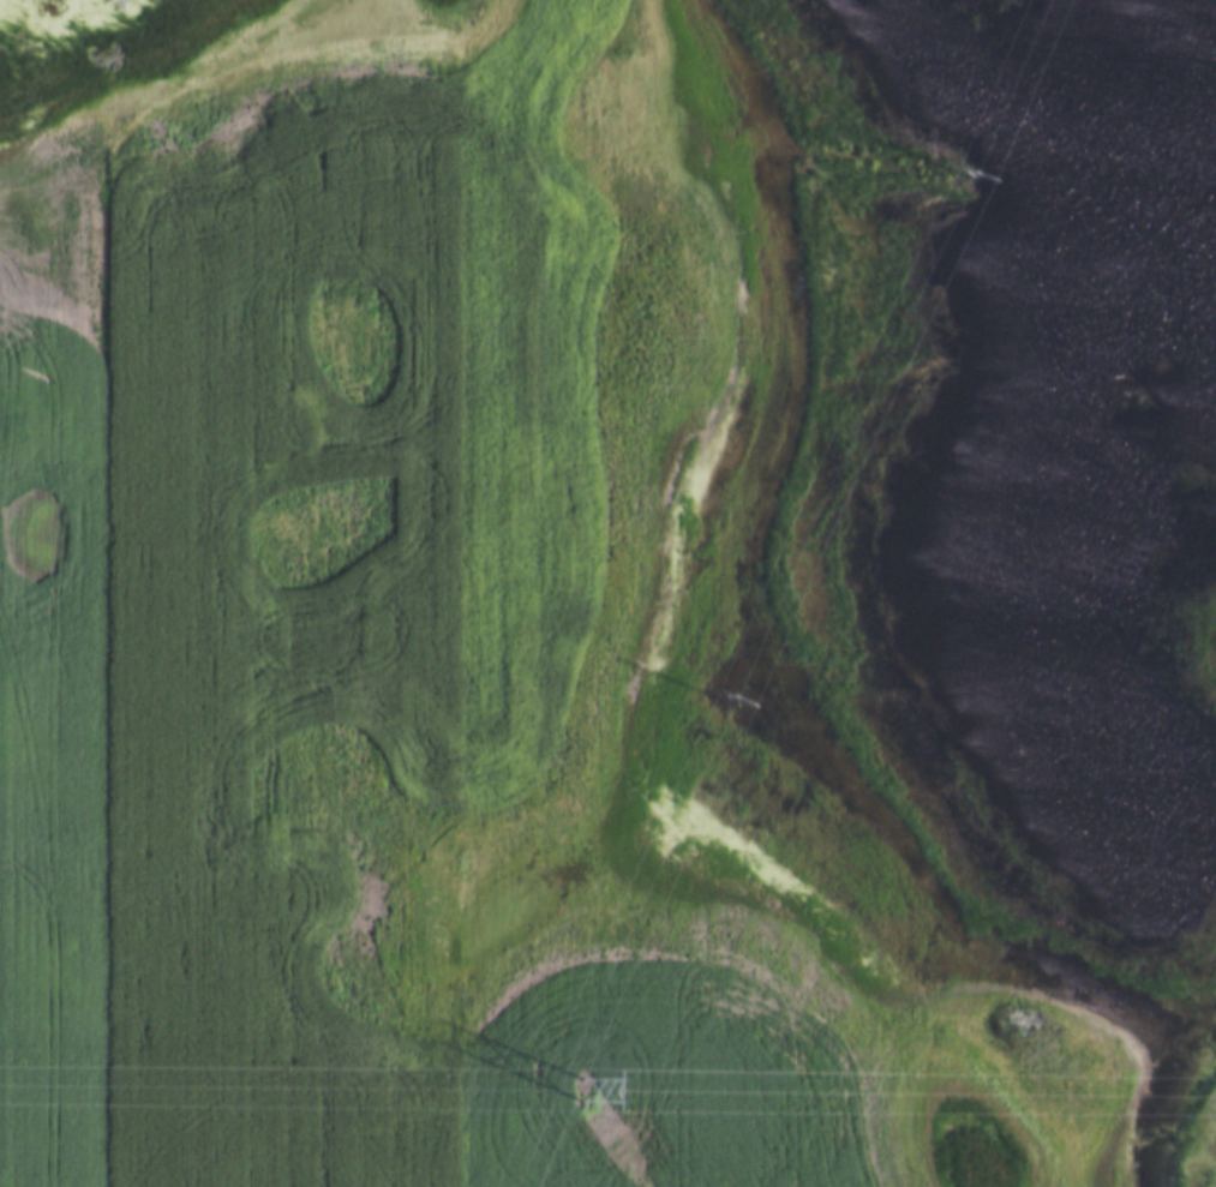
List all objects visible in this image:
power tower: (959, 172)
power tower: (712, 687)
power tower: (582, 1087)

